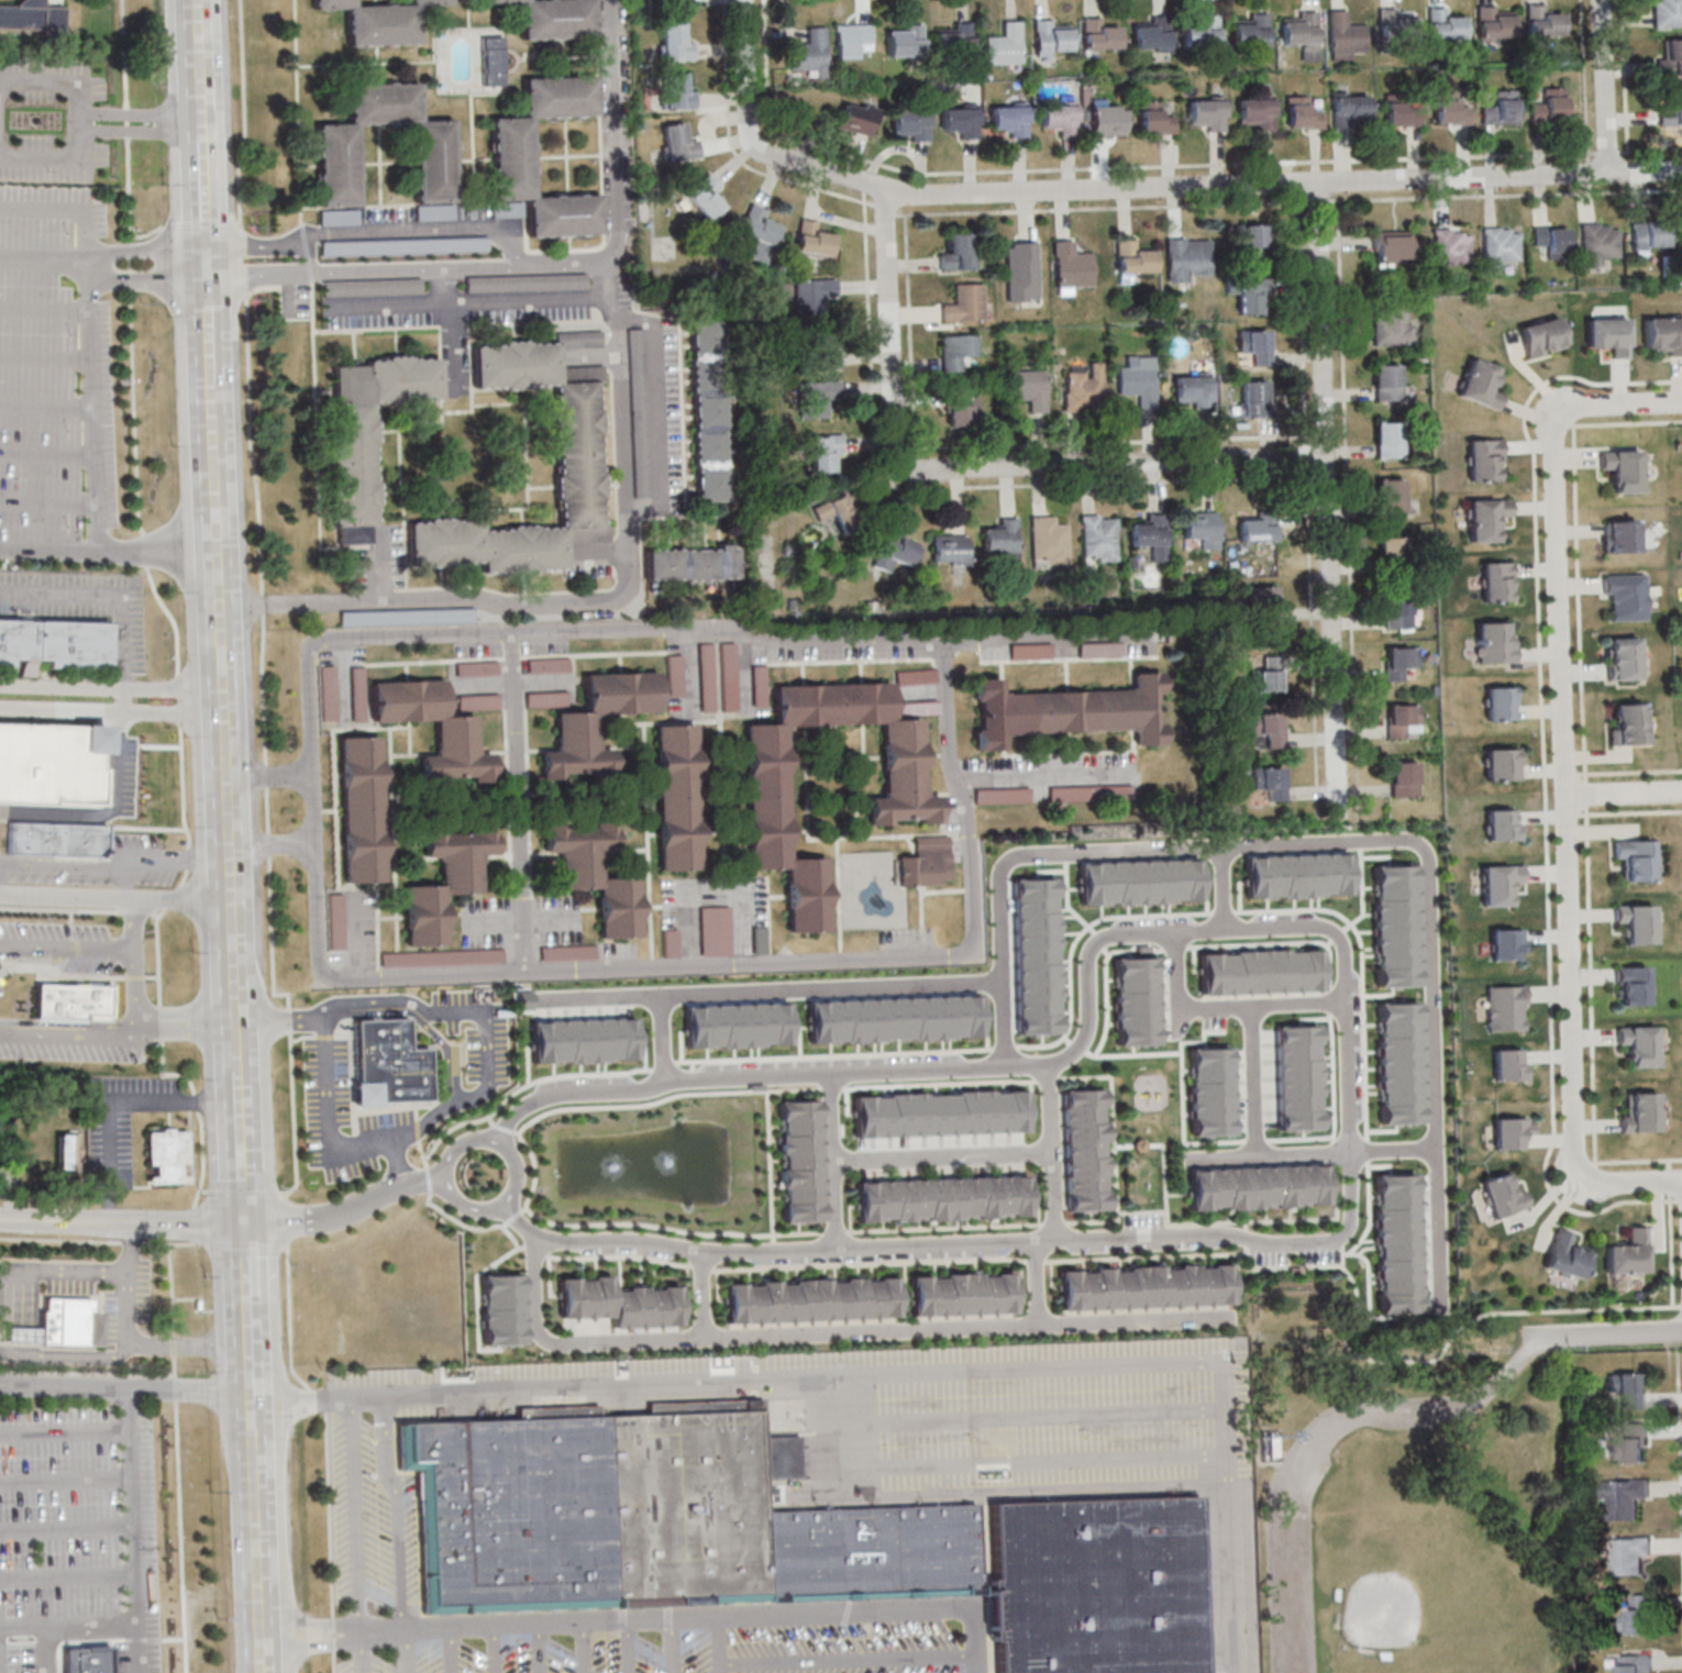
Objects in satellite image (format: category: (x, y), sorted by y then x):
building: (683, 3)
building: (1668, 13)
building: (31, 16)
building: (555, 19)
building: (380, 21)
building: (1545, 22)
building: (1495, 23)
building: (1443, 24)
building: (1397, 25)
building: (1200, 31)
building: (1252, 31)
building: (1151, 33)
building: (1303, 33)
building: (1099, 35)
building: (1347, 35)
building: (954, 37)
building: (1051, 38)
building: (853, 40)
building: (905, 41)
building: (674, 43)
building: (1004, 43)
building: (810, 52)
building: (1670, 57)
building: (491, 60)
road: (202, 63)
road: (749, 74)
road: (1626, 78)
road: (57, 85)
road: (1608, 85)
road: (1586, 86)
building: (677, 91)
building: (1550, 104)
building: (1351, 108)
building: (1672, 108)
building: (1450, 109)
building: (1500, 110)
building: (1255, 112)
building: (1303, 112)
building: (1207, 113)
building: (1403, 113)
building: (857, 118)
building: (1010, 118)
building: (1060, 118)
building: (1155, 118)
parking lot: (51, 119)
building: (961, 120)
building: (1107, 121)
building: (910, 125)
road: (144, 126)
road: (206, 134)
building: (678, 142)
road: (733, 149)
road: (1605, 152)
road: (1617, 152)
building: (512, 155)
road: (58, 162)
building: (337, 162)
road: (1119, 166)
road: (208, 173)
road: (1213, 182)
building: (706, 198)
road: (1276, 200)
road: (75, 208)
building: (508, 210)
road: (209, 225)
road: (428, 231)
building: (759, 231)
building: (1652, 236)
building: (814, 237)
building: (1553, 240)
building: (1253, 242)
building: (1600, 242)
building: (474, 245)
building: (1501, 245)
building: (1392, 246)
building: (1451, 246)
road: (202, 248)
traffic signals: (210, 248)
building: (956, 252)
road: (305, 255)
building: (1187, 257)
building: (1132, 259)
road: (573, 262)
road: (48, 263)
building: (1072, 265)
road: (414, 267)
building: (1022, 270)
road: (203, 274)
traffic signals: (211, 274)
building: (572, 280)
building: (814, 295)
building: (1252, 295)
building: (965, 302)
road: (478, 303)
road: (48, 309)
road: (212, 314)
road: (453, 321)
building: (1394, 326)
building: (1664, 334)
road: (911, 335)
building: (1541, 335)
building: (1611, 335)
building: (1257, 345)
building: (820, 351)
building: (958, 351)
road: (48, 357)
parking lot: (56, 378)
building: (1139, 378)
building: (1388, 381)
building: (1481, 384)
building: (1029, 388)
building: (1084, 389)
building: (1194, 392)
building: (819, 397)
road: (214, 398)
building: (1254, 398)
road: (48, 406)
building: (963, 407)
road: (98, 408)
building: (708, 410)
building: (639, 414)
road: (655, 414)
road: (1618, 423)
building: (370, 431)
building: (1390, 439)
road: (1111, 442)
building: (825, 452)
building: (579, 453)
road: (49, 454)
building: (1484, 458)
road: (916, 463)
road: (976, 468)
building: (1622, 469)
road: (1349, 490)
road: (945, 491)
road: (1308, 491)
building: (1394, 496)
road: (1327, 498)
road: (629, 501)
road: (49, 503)
road: (218, 508)
building: (836, 511)
building: (1486, 518)
building: (1203, 528)
building: (1258, 528)
building: (1151, 534)
building: (1622, 535)
building: (1099, 538)
building: (1003, 541)
building: (1049, 542)
building: (1392, 542)
road: (110, 550)
building: (691, 564)
building: (1498, 580)
road: (1579, 592)
road: (104, 595)
building: (1626, 596)
building: (1264, 609)
building: (1398, 611)
parking lot: (70, 617)
building: (409, 617)
road: (1540, 630)
road: (1049, 634)
building: (1495, 642)
building: (53, 644)
building: (1099, 649)
building: (1031, 651)
building: (1623, 657)
building: (1401, 662)
building: (542, 665)
building: (477, 667)
building: (916, 676)
building: (1268, 679)
road: (112, 686)
road: (124, 697)
building: (546, 698)
building: (479, 701)
building: (1501, 702)
road: (112, 706)
building: (917, 707)
building: (1069, 710)
road: (717, 714)
building: (1404, 720)
road: (1565, 721)
building: (596, 723)
building: (1628, 724)
building: (1268, 730)
building: (455, 736)
building: (58, 750)
building: (1501, 764)
parking lot: (74, 771)
road: (1629, 771)
road: (1048, 772)
road: (270, 774)
road: (1573, 774)
building: (1404, 778)
building: (1271, 780)
road: (1585, 793)
road: (1624, 793)
building: (1091, 794)
building: (1003, 795)
building: (677, 796)
road: (519, 804)
road: (964, 807)
road: (313, 808)
building: (361, 809)
building: (904, 809)
road: (1630, 811)
road: (109, 812)
road: (1574, 813)
road: (230, 816)
building: (1503, 824)
building: (56, 838)
road: (273, 847)
road: (177, 857)
building: (1633, 858)
road: (1014, 860)
building: (925, 865)
road: (1, 867)
road: (65, 869)
building: (1301, 871)
building: (596, 874)
building: (1144, 876)
building: (445, 880)
road: (128, 885)
building: (1502, 885)
road: (715, 886)
road: (117, 898)
building: (335, 921)
building: (1398, 921)
building: (1636, 921)
road: (139, 922)
road: (1283, 927)
building: (716, 930)
road: (359, 938)
building: (761, 939)
road: (1434, 939)
building: (671, 942)
building: (1511, 946)
building: (1040, 951)
building: (568, 952)
building: (442, 957)
building: (1265, 965)
building: (1631, 984)
parking lot: (75, 989)
road: (135, 989)
road: (770, 990)
road: (1592, 995)
building: (1140, 996)
building: (71, 1002)
building: (1506, 1007)
road: (1228, 1008)
building: (897, 1013)
building: (741, 1018)
road: (184, 1021)
building: (587, 1034)
road: (663, 1040)
building: (1639, 1044)
road: (450, 1048)
road: (237, 1051)
building: (388, 1064)
building: (1403, 1065)
building: (1512, 1065)
parking lot: (390, 1071)
road: (901, 1073)
building: (1303, 1073)
road: (489, 1075)
road: (1349, 1079)
road: (1254, 1081)
building: (1215, 1086)
road: (237, 1096)
road: (117, 1103)
building: (944, 1108)
building: (1644, 1114)
parking lot: (121, 1118)
building: (1512, 1132)
road: (501, 1144)
building: (1143, 1146)
building: (1086, 1149)
road: (1396, 1149)
building: (11, 1152)
building: (68, 1152)
road: (1272, 1153)
road: (1053, 1154)
building: (166, 1155)
road: (944, 1155)
road: (772, 1157)
building: (799, 1159)
road: (1638, 1160)
fountain: (638, 1161)
road: (1587, 1162)
road: (400, 1163)
road: (836, 1164)
road: (1671, 1164)
road: (241, 1171)
road: (1548, 1175)
road: (1671, 1181)
road: (1622, 1182)
building: (1260, 1186)
building: (1506, 1196)
road: (376, 1197)
building: (943, 1197)
road: (1680, 1199)
road: (464, 1206)
parking lot: (1144, 1220)
road: (274, 1221)
road: (73, 1222)
traffic signals: (243, 1222)
road: (193, 1223)
road: (520, 1225)
building: (1402, 1245)
road: (950, 1249)
road: (1674, 1249)
road: (1345, 1251)
building: (1629, 1253)
parking lot: (1296, 1254)
building: (1568, 1254)
road: (244, 1264)
road: (90, 1274)
building: (1149, 1285)
road: (1038, 1286)
building: (963, 1294)
road: (705, 1297)
building: (812, 1299)
building: (622, 1304)
park: (1299, 1308)
road: (1603, 1308)
road: (132, 1310)
building: (505, 1310)
building: (62, 1323)
road: (842, 1336)
road: (1609, 1336)
road: (1672, 1337)
road: (1345, 1342)
road: (248, 1348)
road: (123, 1349)
road: (764, 1381)
building: (1628, 1388)
road: (251, 1410)
road: (1323, 1433)
building: (1628, 1442)
road: (1677, 1476)
building: (1620, 1497)
parking lot: (800, 1513)
building: (654, 1516)
park: (1418, 1517)
parking lot: (79, 1528)
road: (131, 1529)
road: (256, 1533)
building: (1628, 1554)
park: (1418, 1577)
building: (1097, 1585)
parking lot: (1294, 1587)
building: (1636, 1616)
road: (648, 1620)
building: (84, 1642)
road: (721, 1646)
road: (629, 1647)
road: (670, 1647)
road: (583, 1648)
road: (543, 1649)
road: (451, 1650)
road: (495, 1650)
road: (406, 1651)
road: (364, 1652)
road: (261, 1653)
road: (849, 1659)
building: (1635, 1663)
building: (86, 1670)

